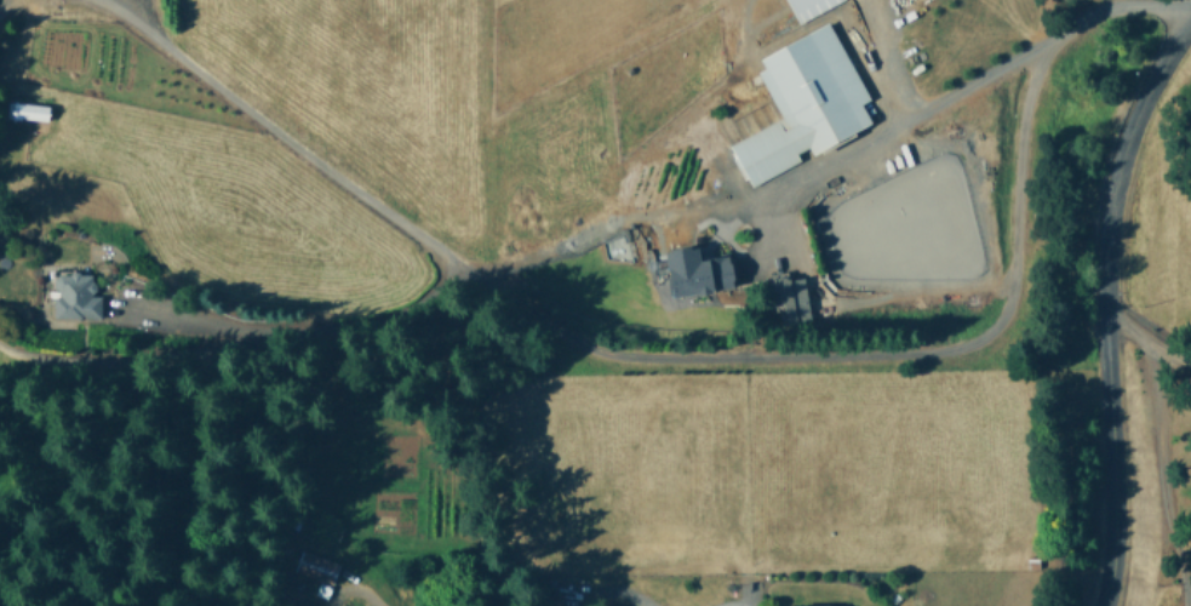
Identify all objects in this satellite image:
road: (2, 2)
building: (806, 7)
building: (802, 102)
building: (30, 110)
road: (677, 229)
building: (693, 271)
building: (74, 296)
building: (789, 297)
road: (1103, 303)
road: (648, 351)
road: (1156, 453)
building: (317, 566)
road: (370, 602)
building: (805, 604)

